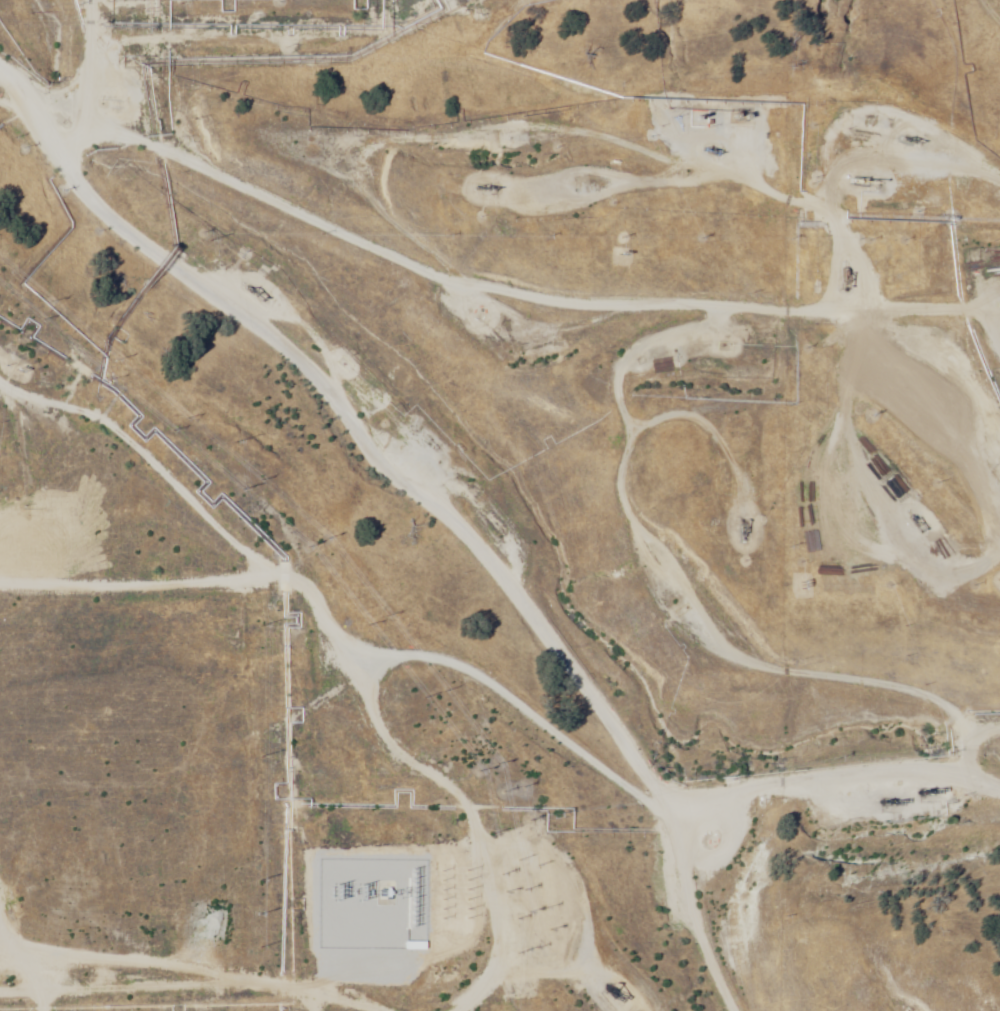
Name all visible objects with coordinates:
road: (69, 9)
road: (668, 11)
road: (48, 66)
road: (545, 141)
road: (446, 324)
road: (850, 344)
road: (890, 424)
road: (301, 476)
road: (869, 495)
building: (0, 600)
road: (694, 623)
road: (199, 624)
road: (505, 714)
road: (653, 886)
road: (514, 901)
road: (434, 908)
road: (244, 957)
road: (385, 980)

